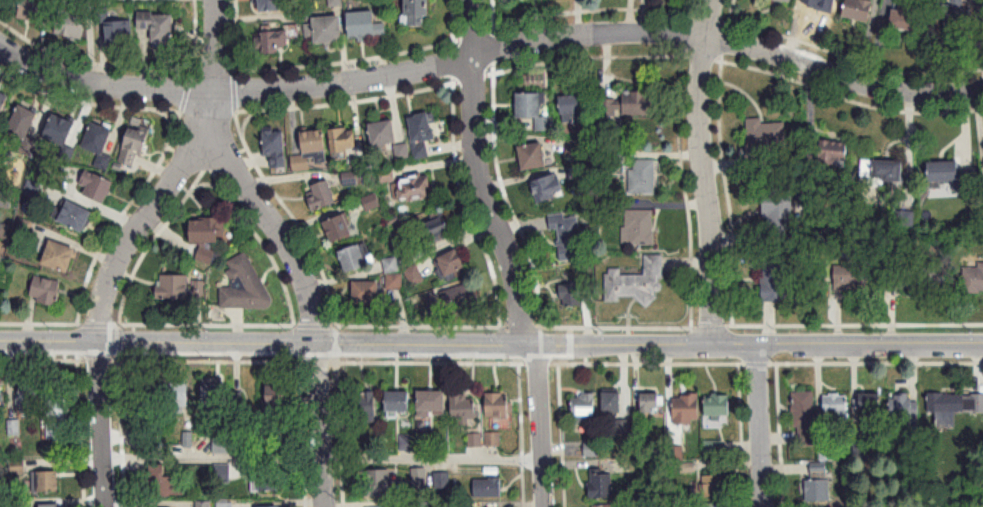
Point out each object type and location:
building: (787, 1)
building: (823, 3)
building: (271, 5)
building: (860, 9)
building: (38, 11)
building: (417, 11)
building: (958, 13)
building: (906, 15)
building: (74, 23)
building: (365, 23)
building: (160, 28)
building: (325, 29)
building: (120, 32)
building: (272, 41)
road: (489, 52)
road: (213, 67)
building: (3, 103)
building: (638, 104)
building: (574, 108)
building: (533, 110)
building: (23, 122)
building: (60, 130)
building: (382, 133)
building: (421, 133)
building: (97, 138)
building: (343, 140)
building: (762, 143)
building: (134, 147)
building: (275, 147)
building: (402, 152)
building: (833, 153)
building: (533, 157)
building: (883, 172)
road: (705, 173)
building: (948, 173)
road: (483, 175)
building: (643, 177)
building: (96, 187)
building: (412, 188)
building: (548, 188)
building: (322, 196)
building: (5, 199)
building: (371, 202)
building: (778, 204)
building: (75, 216)
building: (339, 228)
building: (639, 228)
road: (134, 229)
building: (436, 230)
road: (278, 233)
building: (207, 236)
building: (568, 236)
building: (59, 257)
building: (355, 257)
building: (391, 265)
building: (452, 265)
building: (413, 275)
building: (851, 277)
building: (915, 277)
building: (973, 278)
building: (394, 281)
building: (776, 281)
building: (242, 283)
building: (636, 283)
building: (180, 288)
building: (46, 291)
building: (367, 292)
building: (575, 294)
building: (461, 297)
road: (491, 346)
building: (1, 392)
building: (278, 396)
building: (178, 397)
building: (213, 397)
building: (27, 398)
building: (398, 401)
building: (236, 402)
building: (432, 402)
building: (650, 402)
building: (612, 403)
building: (869, 403)
building: (955, 403)
building: (498, 405)
building: (365, 406)
building: (903, 406)
building: (835, 407)
building: (463, 408)
building: (584, 408)
building: (719, 408)
building: (687, 409)
building: (55, 411)
building: (805, 418)
road: (101, 425)
road: (320, 426)
road: (541, 426)
road: (760, 427)
building: (475, 440)
building: (220, 445)
building: (712, 447)
road: (432, 456)
building: (221, 473)
building: (265, 479)
building: (46, 482)
building: (164, 483)
building: (601, 483)
building: (713, 485)
building: (817, 486)
building: (487, 487)
building: (203, 504)
building: (50, 505)
building: (712, 505)
building: (606, 506)

